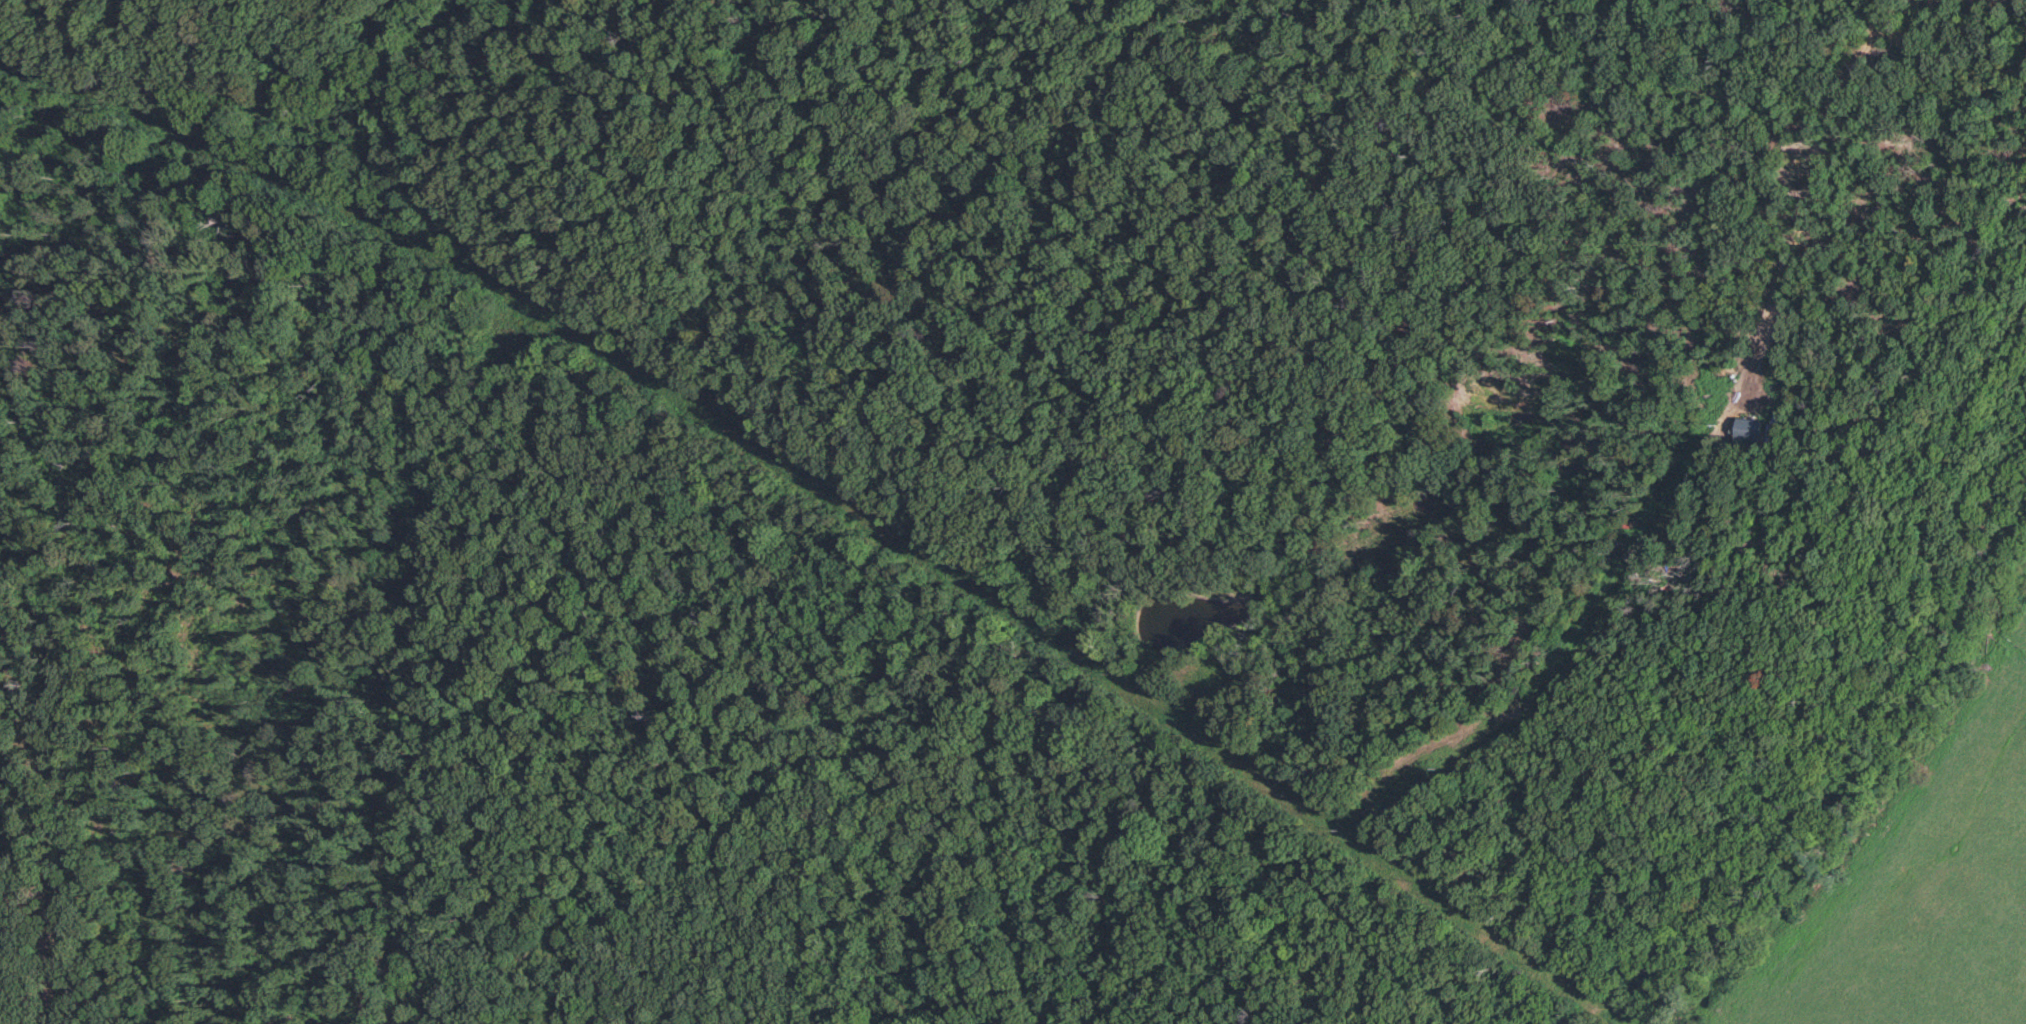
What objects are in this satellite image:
building: (1749, 429)

